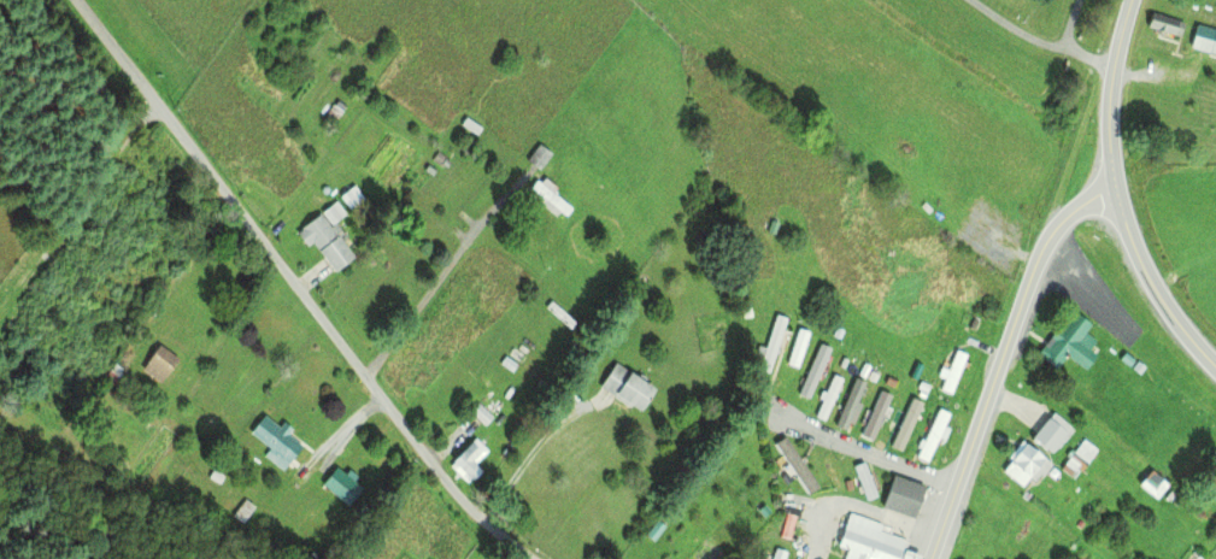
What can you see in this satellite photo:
road: (1068, 22)
park: (1053, 23)
road: (1022, 28)
building: (1203, 40)
road: (1091, 57)
building: (537, 157)
road: (1116, 195)
road: (81, 210)
building: (327, 242)
road: (299, 287)
building: (1073, 342)
building: (797, 347)
road: (998, 357)
building: (158, 363)
building: (812, 370)
building: (952, 371)
building: (624, 386)
building: (827, 396)
building: (848, 402)
building: (875, 414)
building: (1048, 433)
building: (933, 436)
building: (275, 441)
building: (1082, 453)
building: (468, 460)
building: (1022, 464)
building: (791, 467)
building: (864, 479)
building: (1149, 487)
building: (901, 495)
building: (328, 501)
building: (787, 525)
building: (869, 540)
building: (779, 554)

